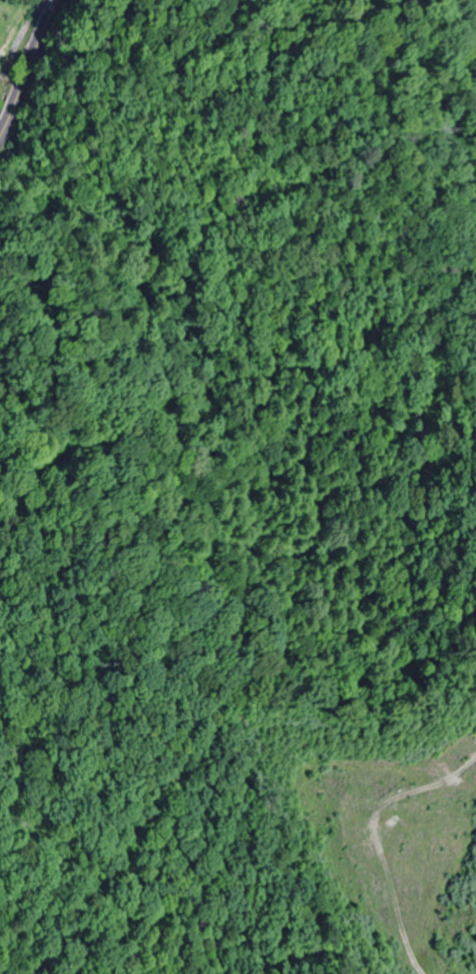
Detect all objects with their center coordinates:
road: (32, 69)

